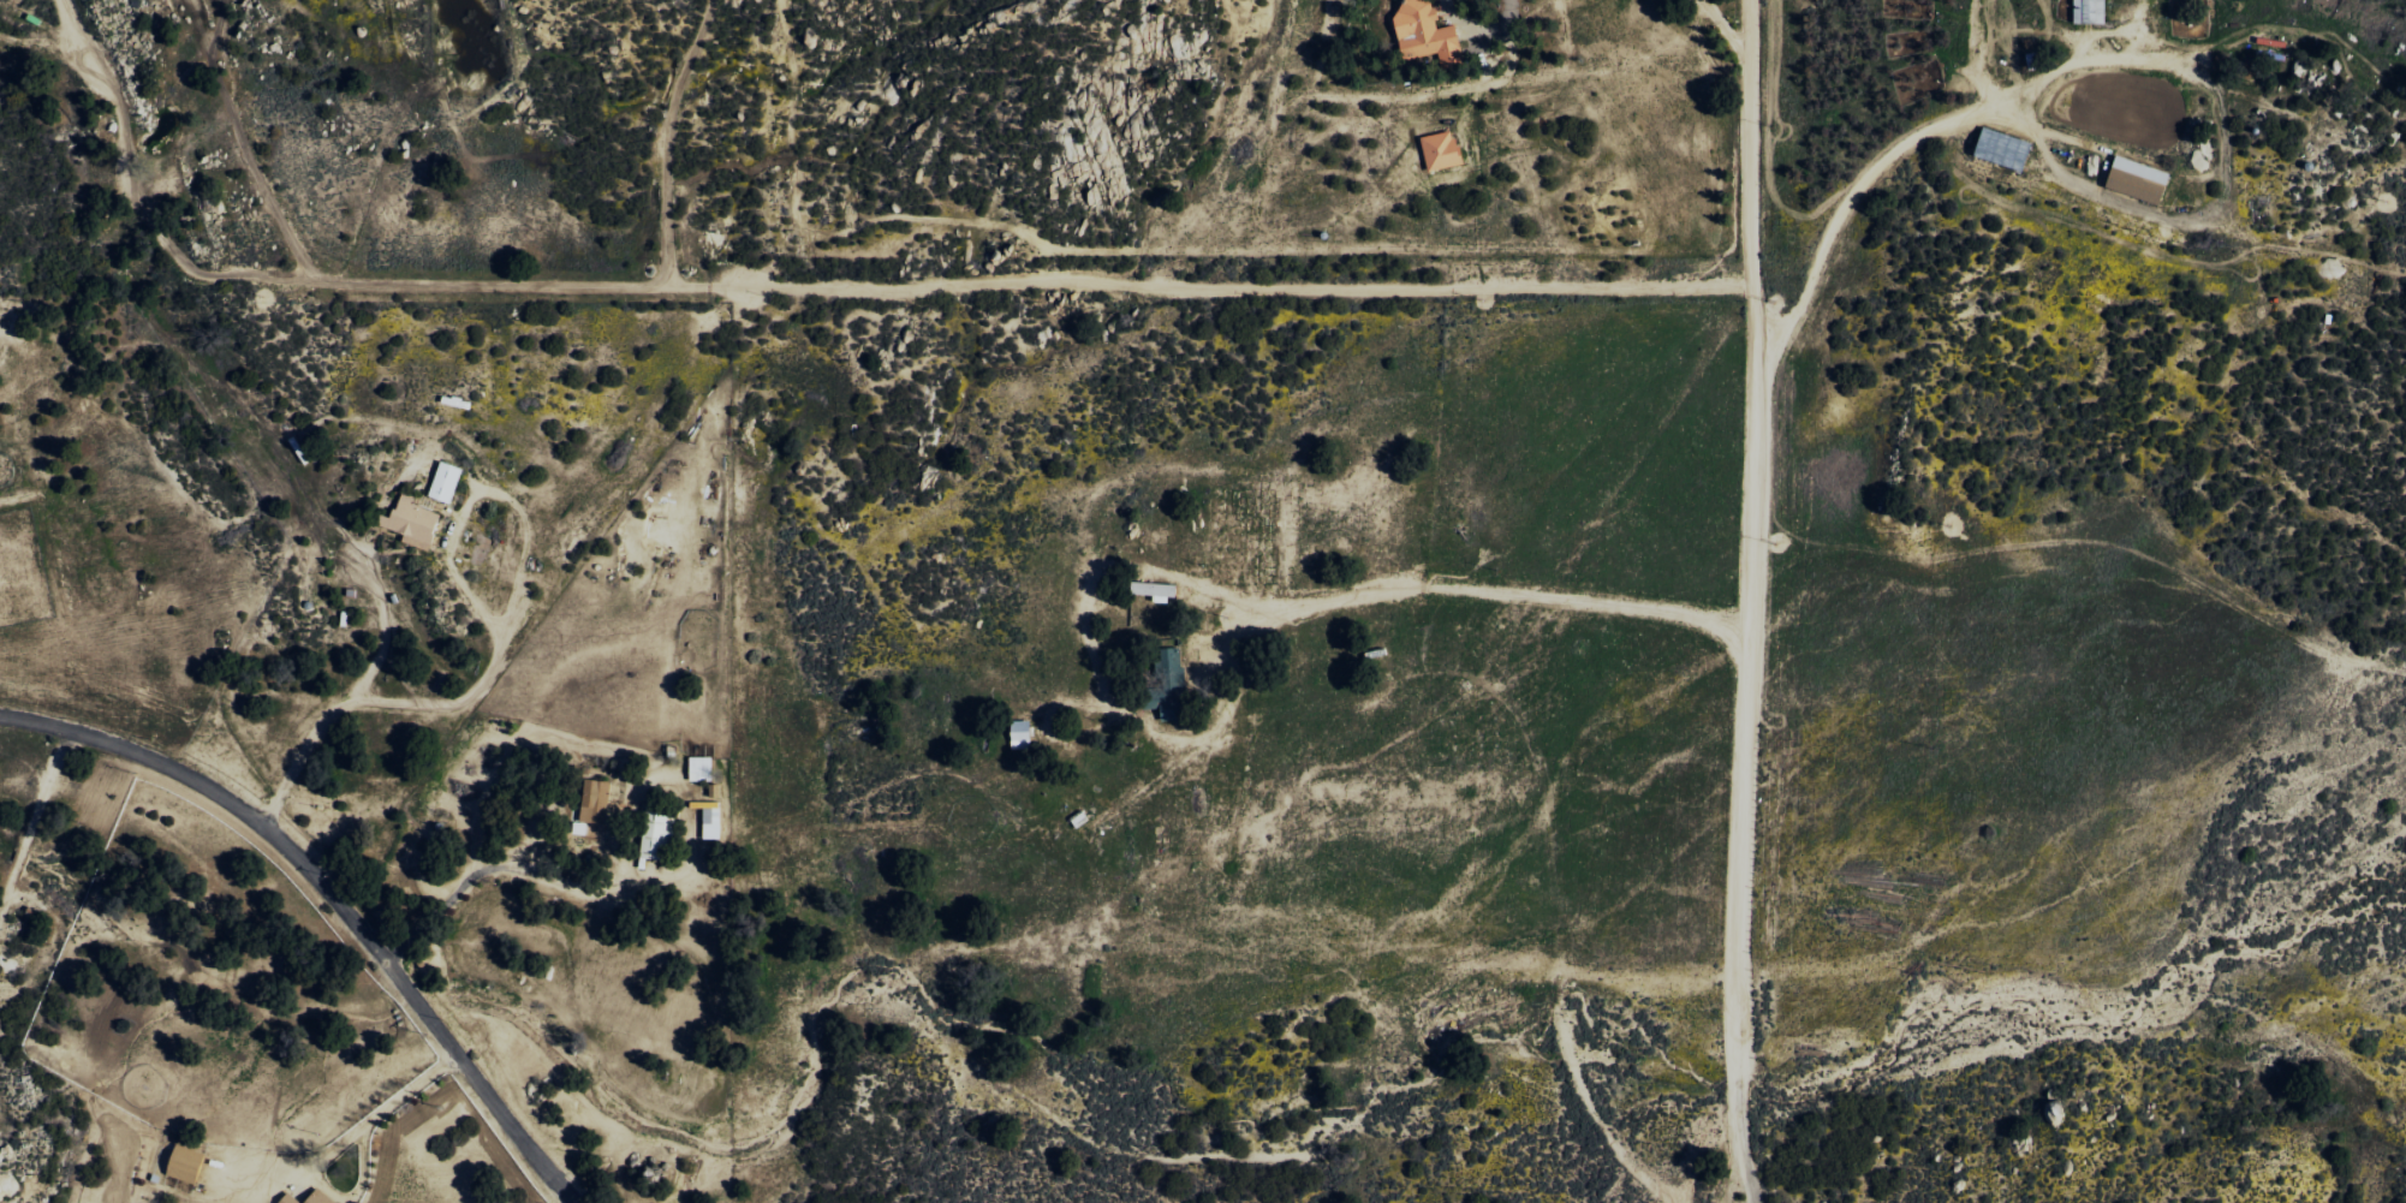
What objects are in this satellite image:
building: (2091, 11)
building: (1429, 34)
building: (2007, 149)
building: (1443, 150)
building: (2140, 179)
building: (447, 482)
building: (413, 522)
building: (1159, 590)
road: (1745, 602)
building: (1171, 659)
building: (1174, 707)
building: (1023, 734)
building: (702, 768)
building: (598, 802)
building: (713, 823)
building: (656, 835)
road: (333, 889)
building: (187, 1165)
building: (321, 1198)
building: (291, 1199)

